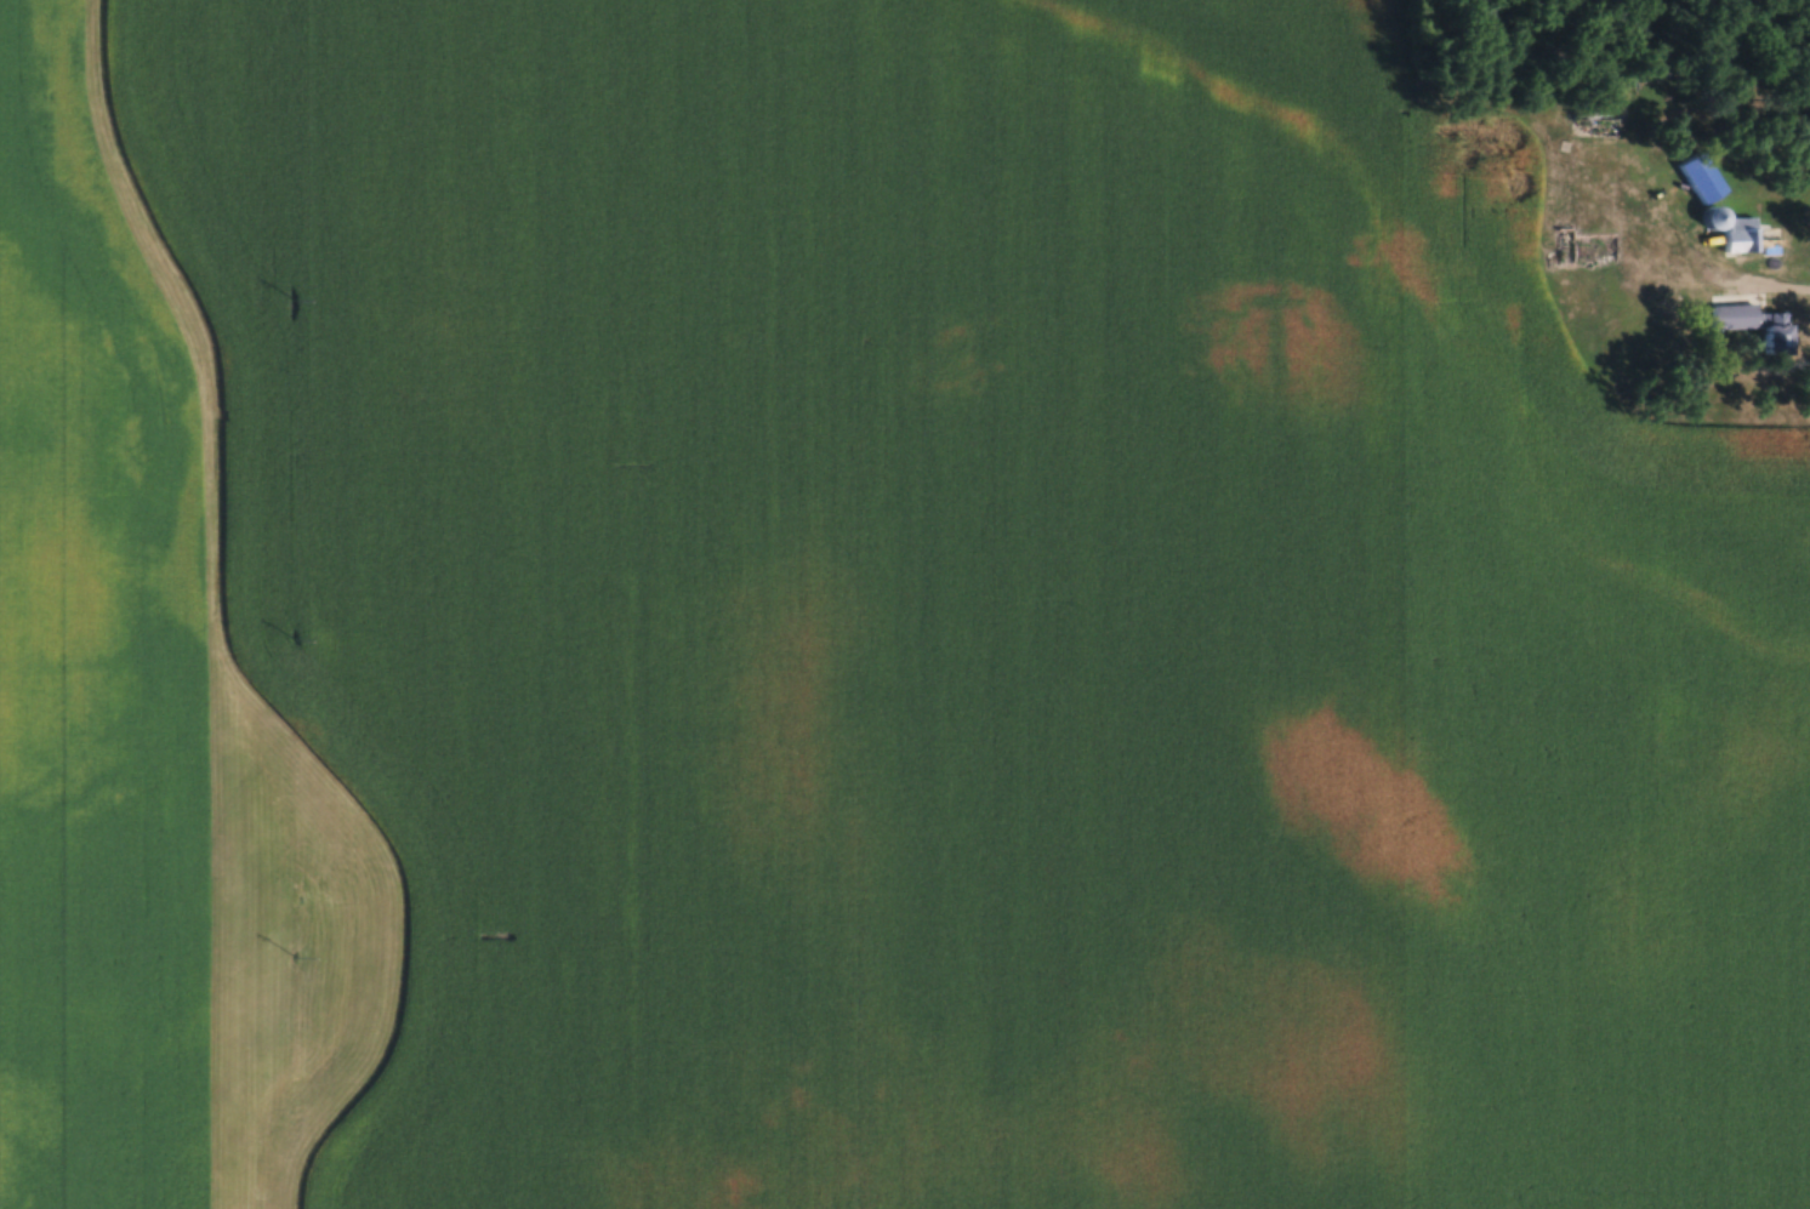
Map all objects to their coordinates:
building: (1735, 233)
building: (1491, 247)
road: (1765, 272)
building: (1755, 326)

